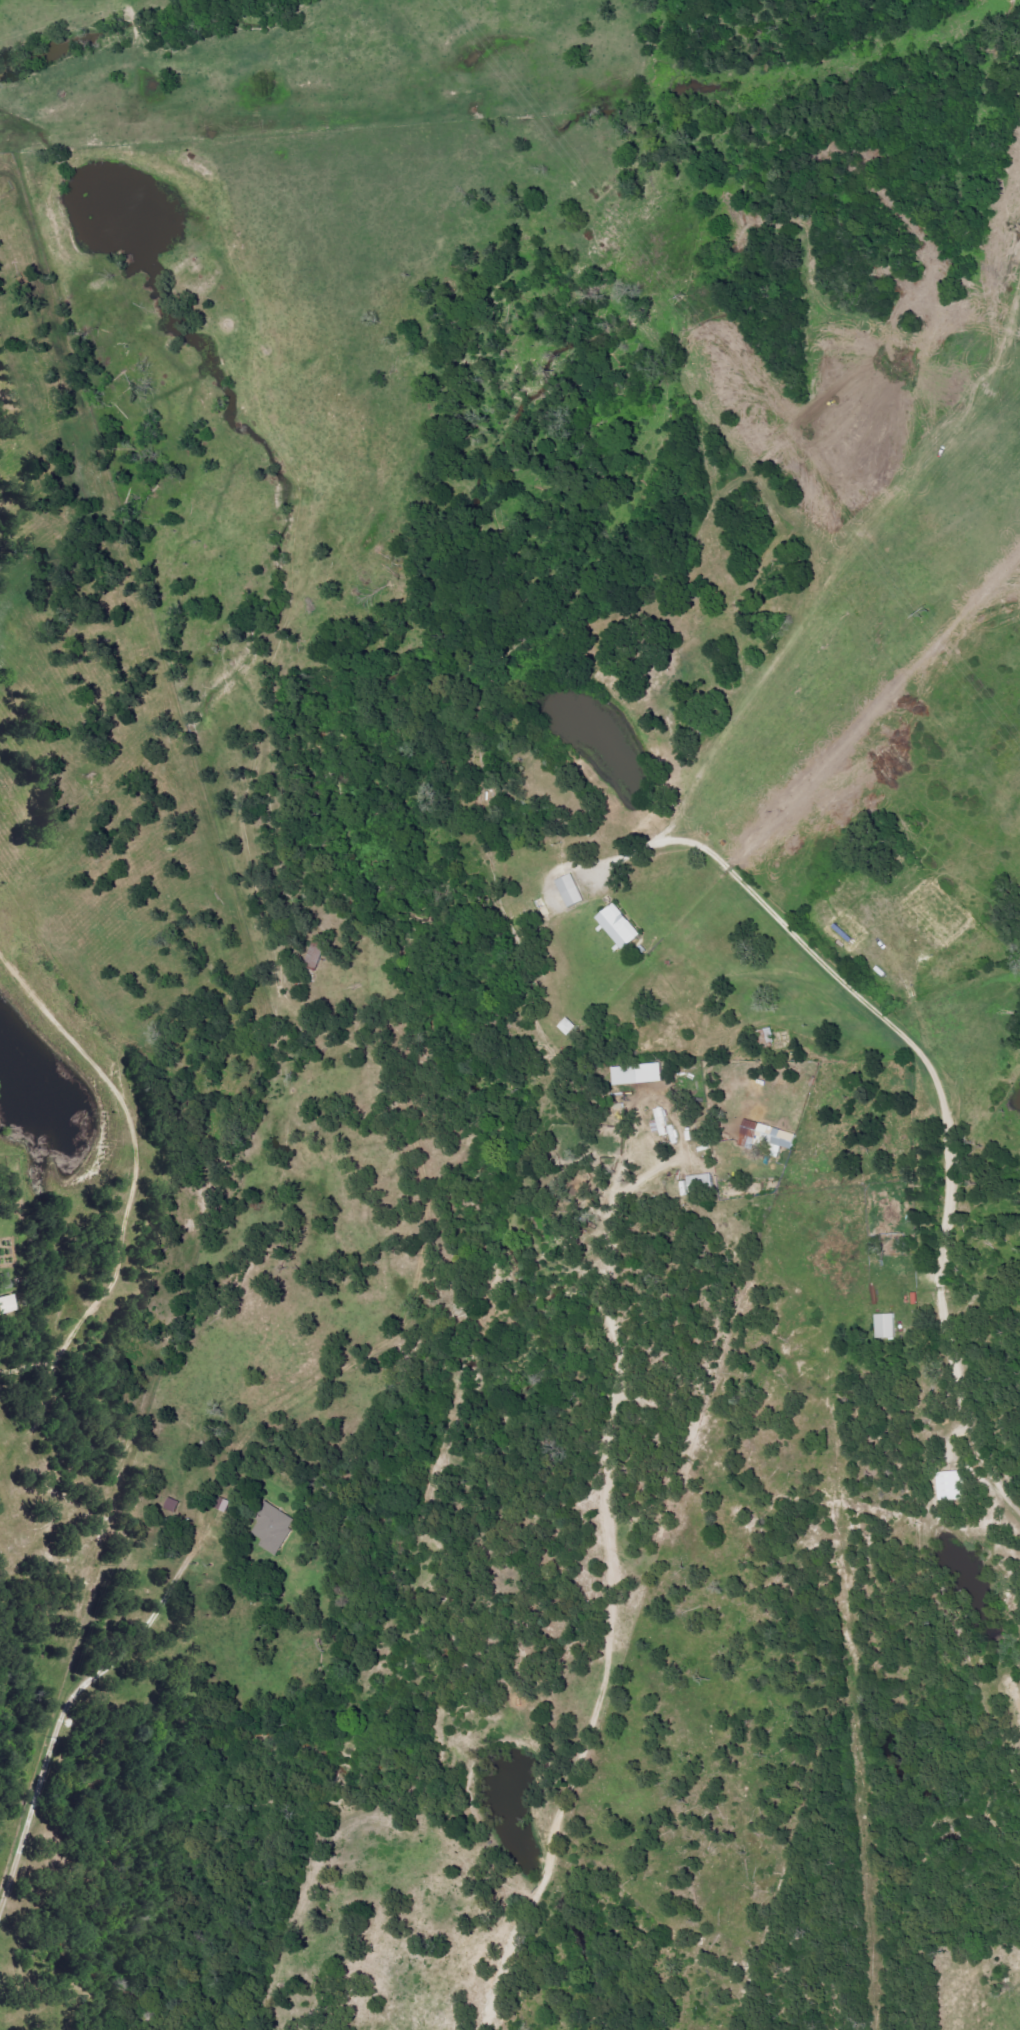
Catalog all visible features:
power tower: (681, 299)
power tower: (924, 616)
building: (570, 892)
building: (619, 926)
building: (639, 1075)
road: (939, 1134)
building: (766, 1137)
building: (6, 1305)
building: (886, 1327)
building: (952, 1487)
building: (223, 1505)
building: (173, 1506)
building: (274, 1527)
road: (53, 1718)

